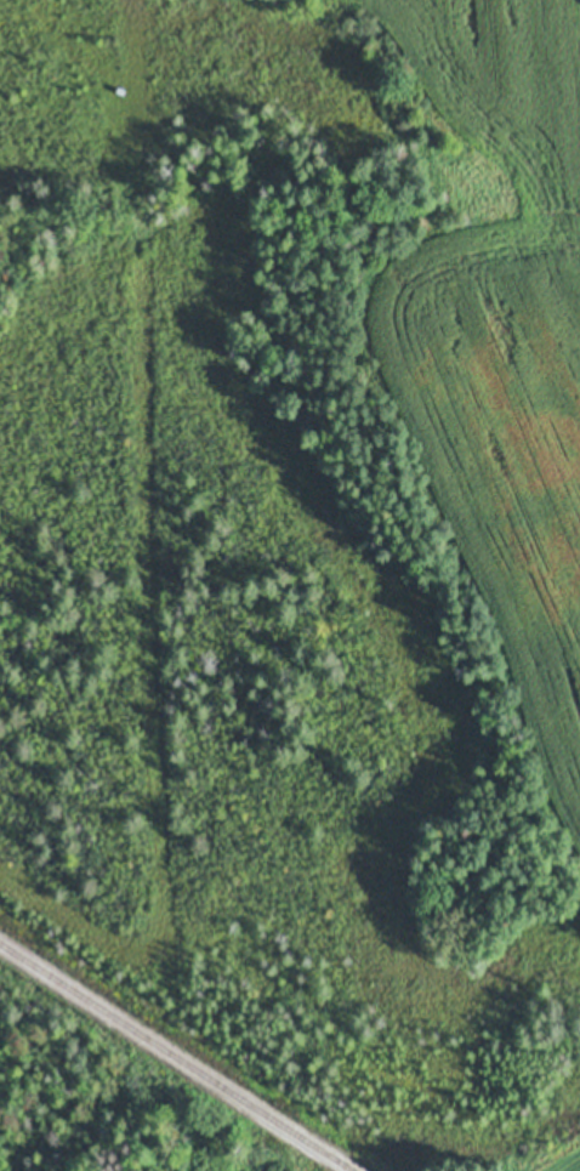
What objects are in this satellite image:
railway: (176, 1057)
crop: (207, 1158)

